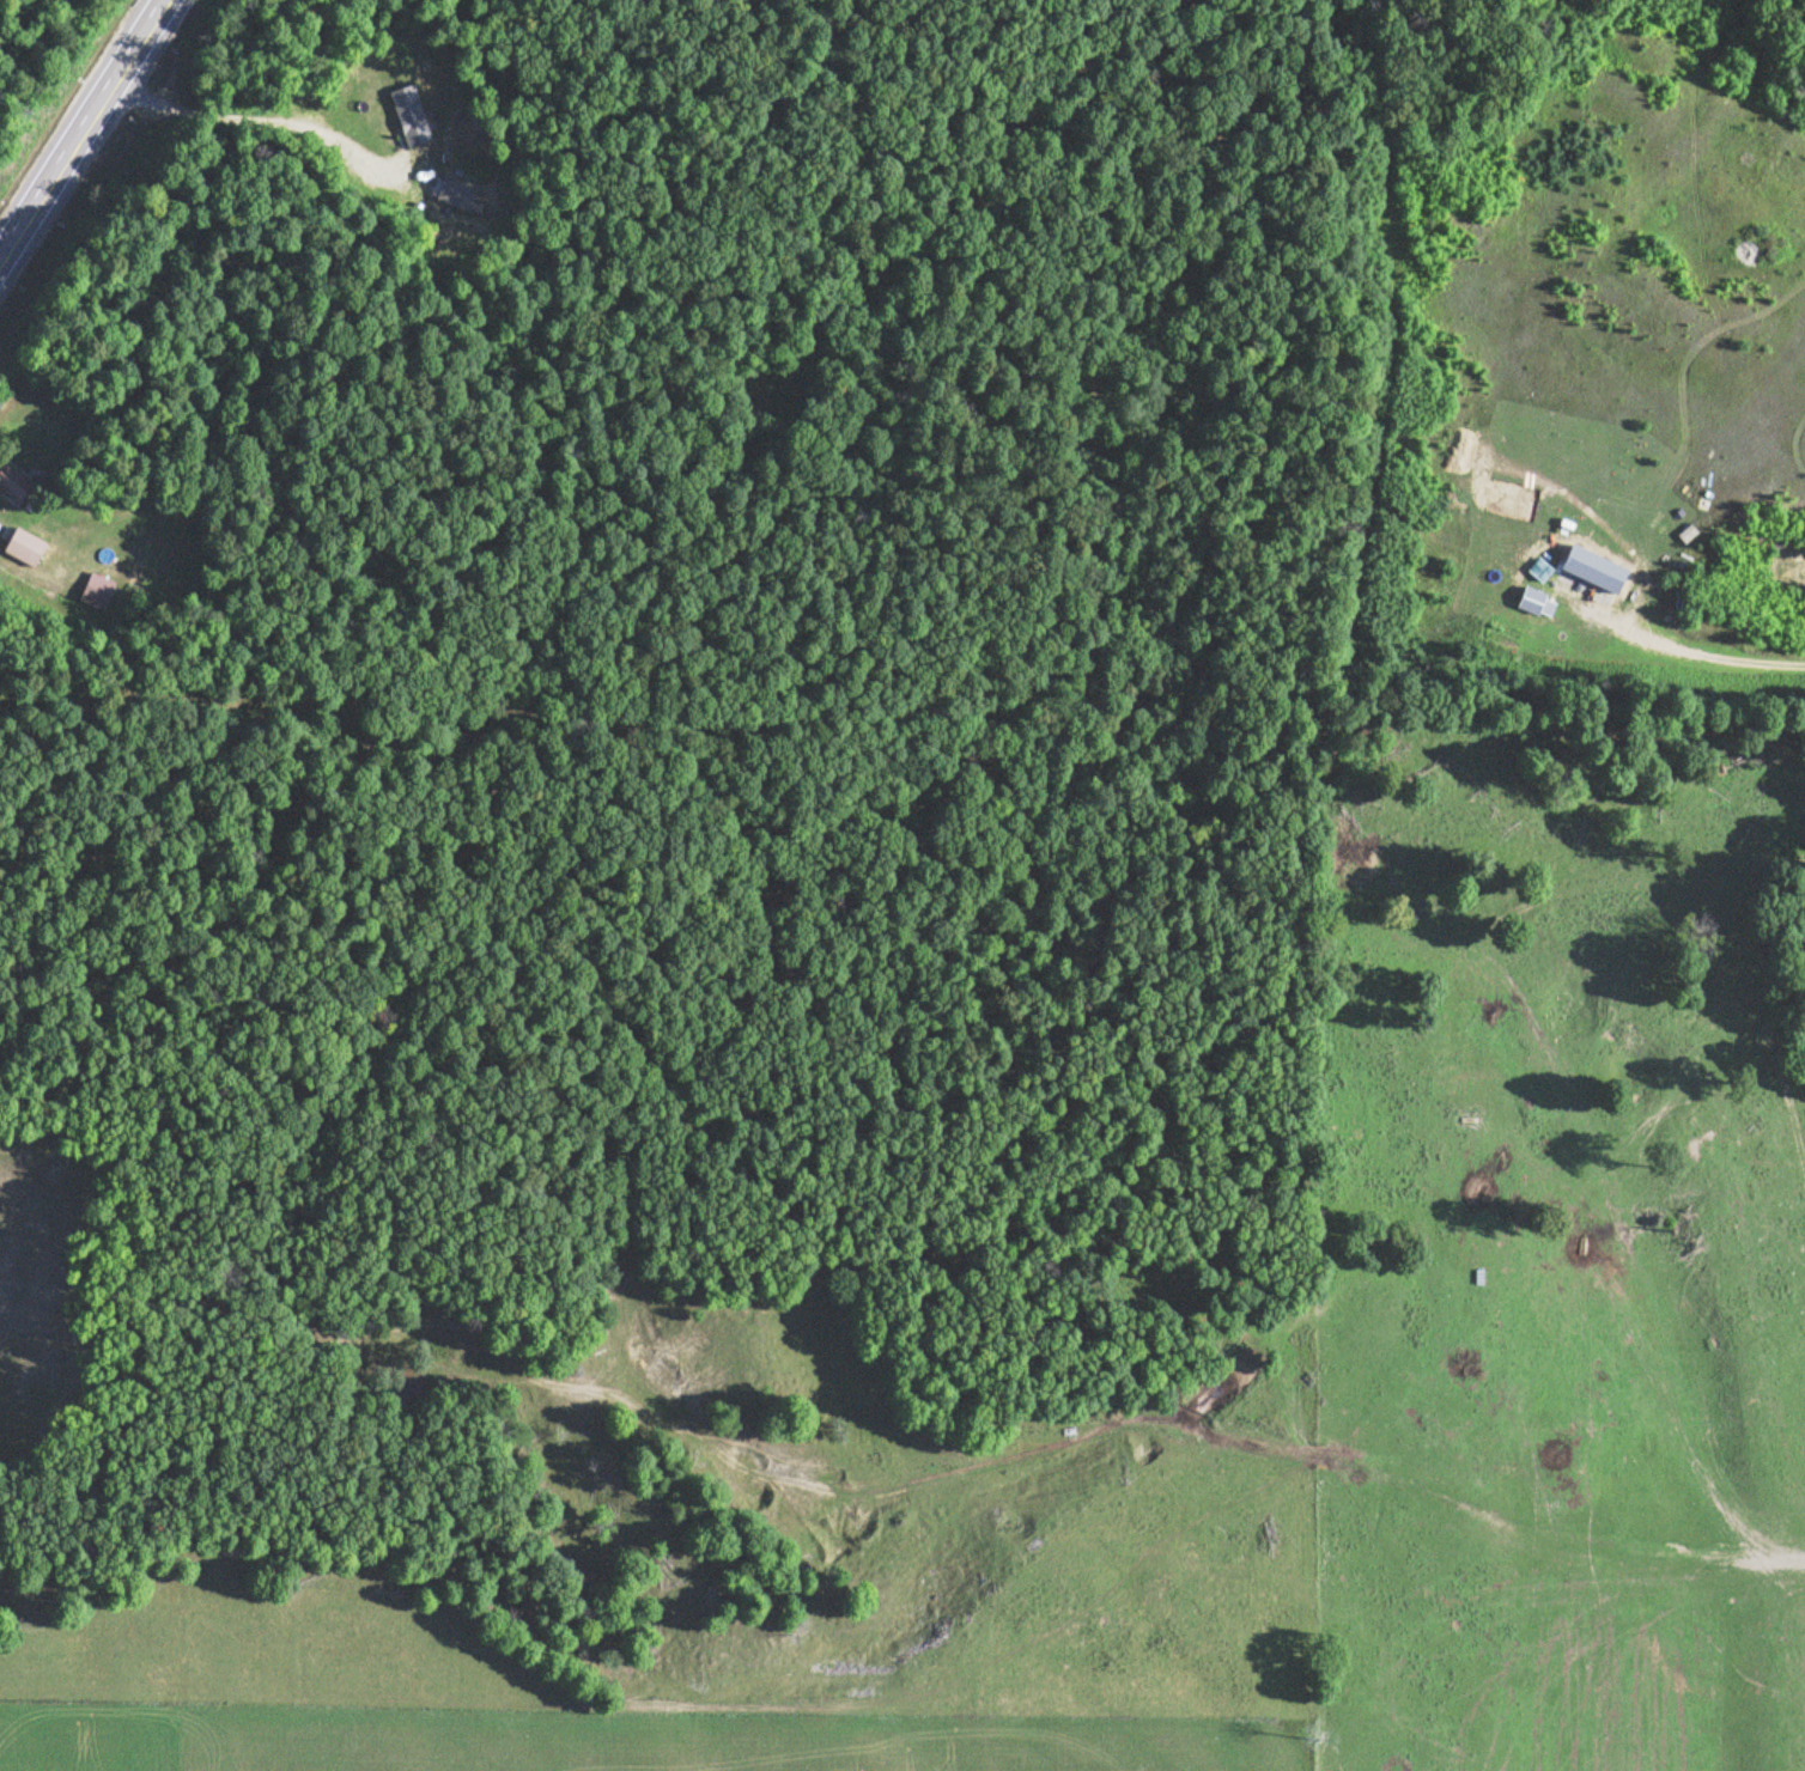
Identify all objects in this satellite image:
building: (407, 112)
road: (78, 122)
building: (11, 474)
building: (24, 544)
building: (95, 595)

